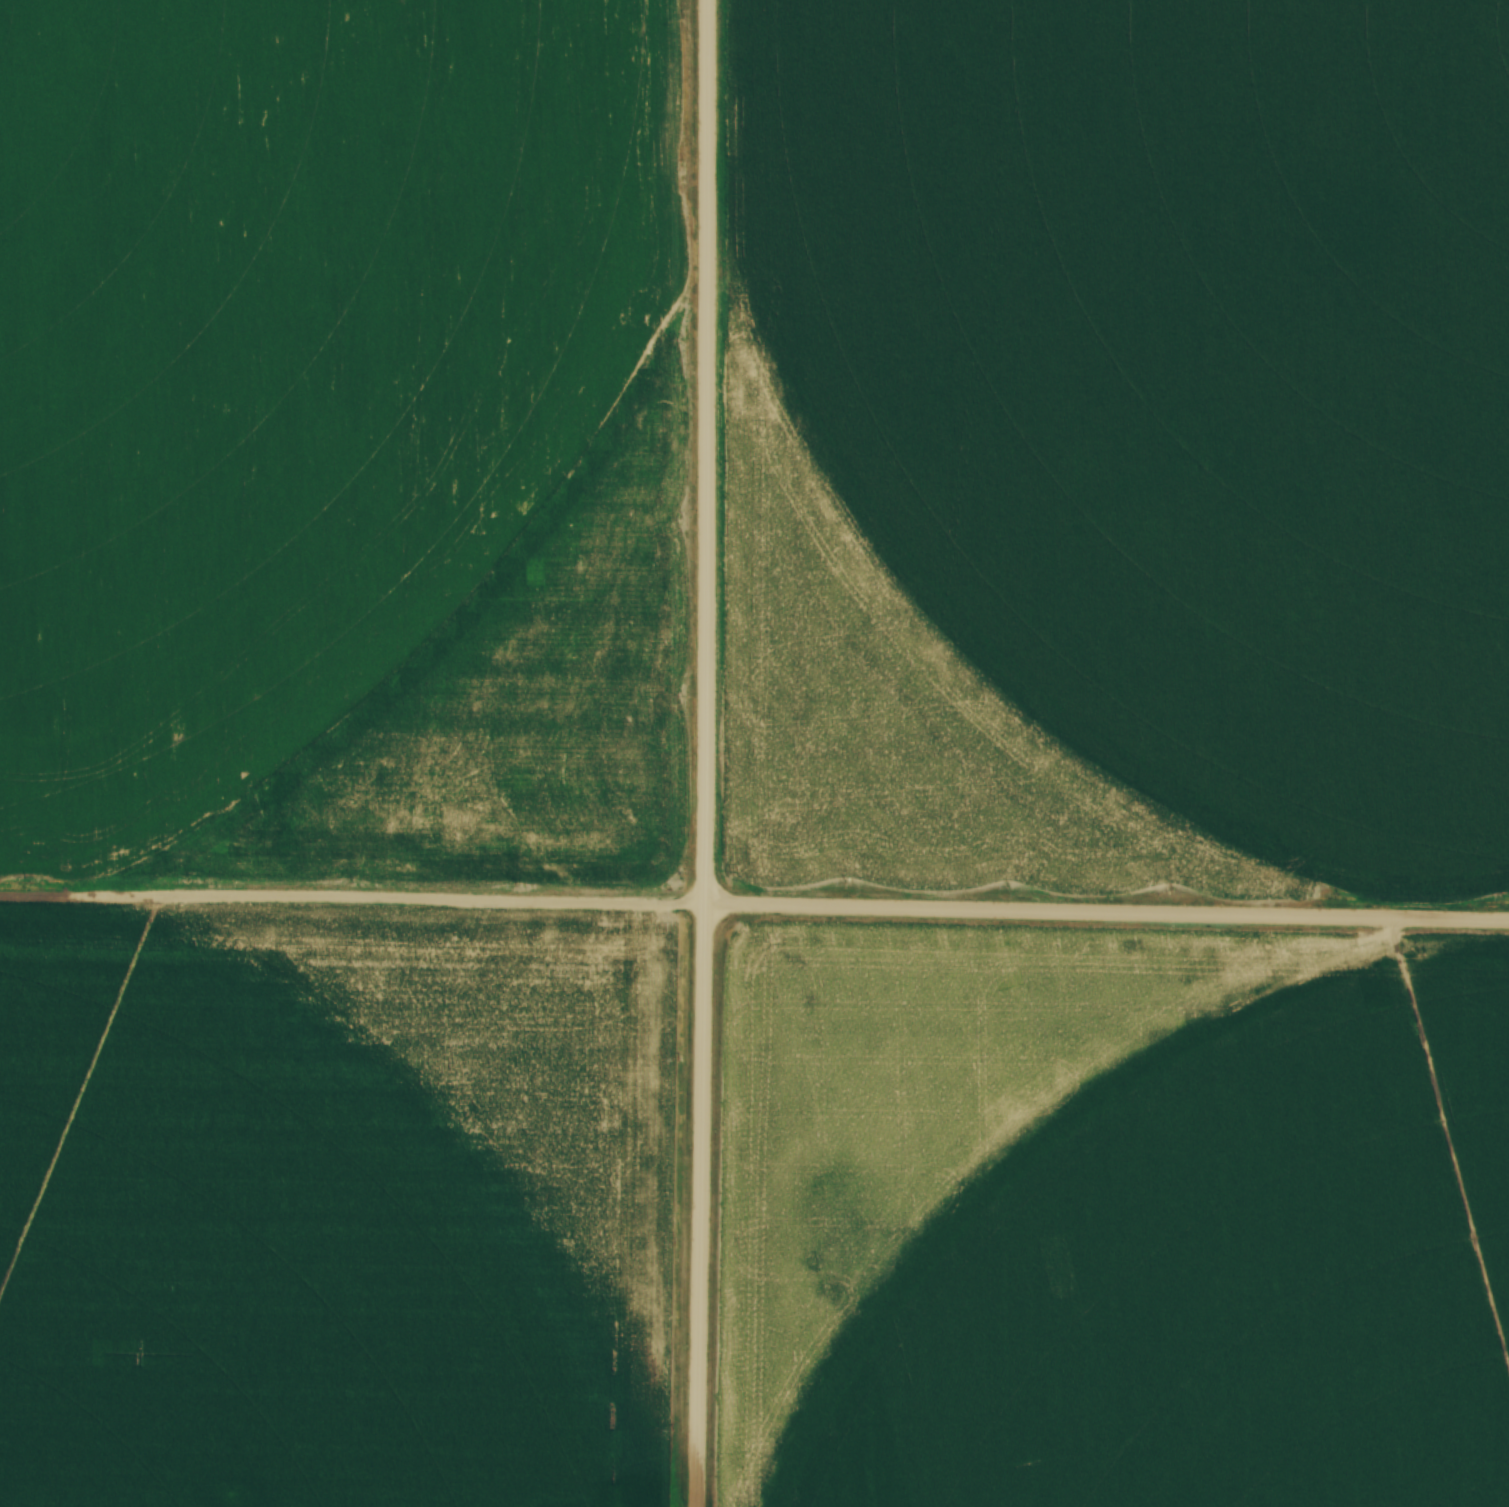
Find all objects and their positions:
crop: (342, 442)
crop: (1120, 454)
road: (706, 753)
road: (1107, 912)
crop: (339, 1206)
crop: (1111, 1218)

